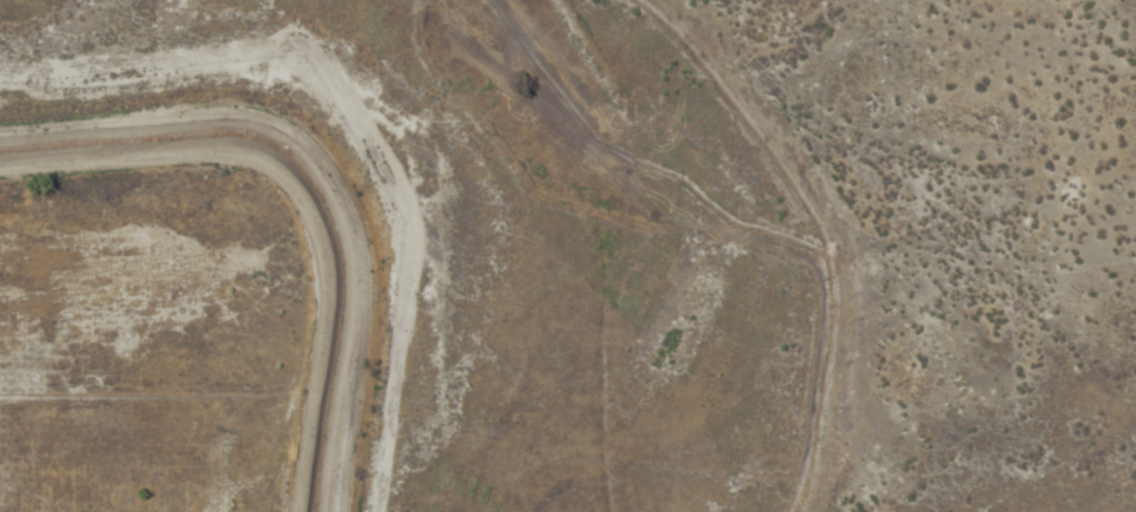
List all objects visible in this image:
road: (293, 203)
crop: (568, 255)

